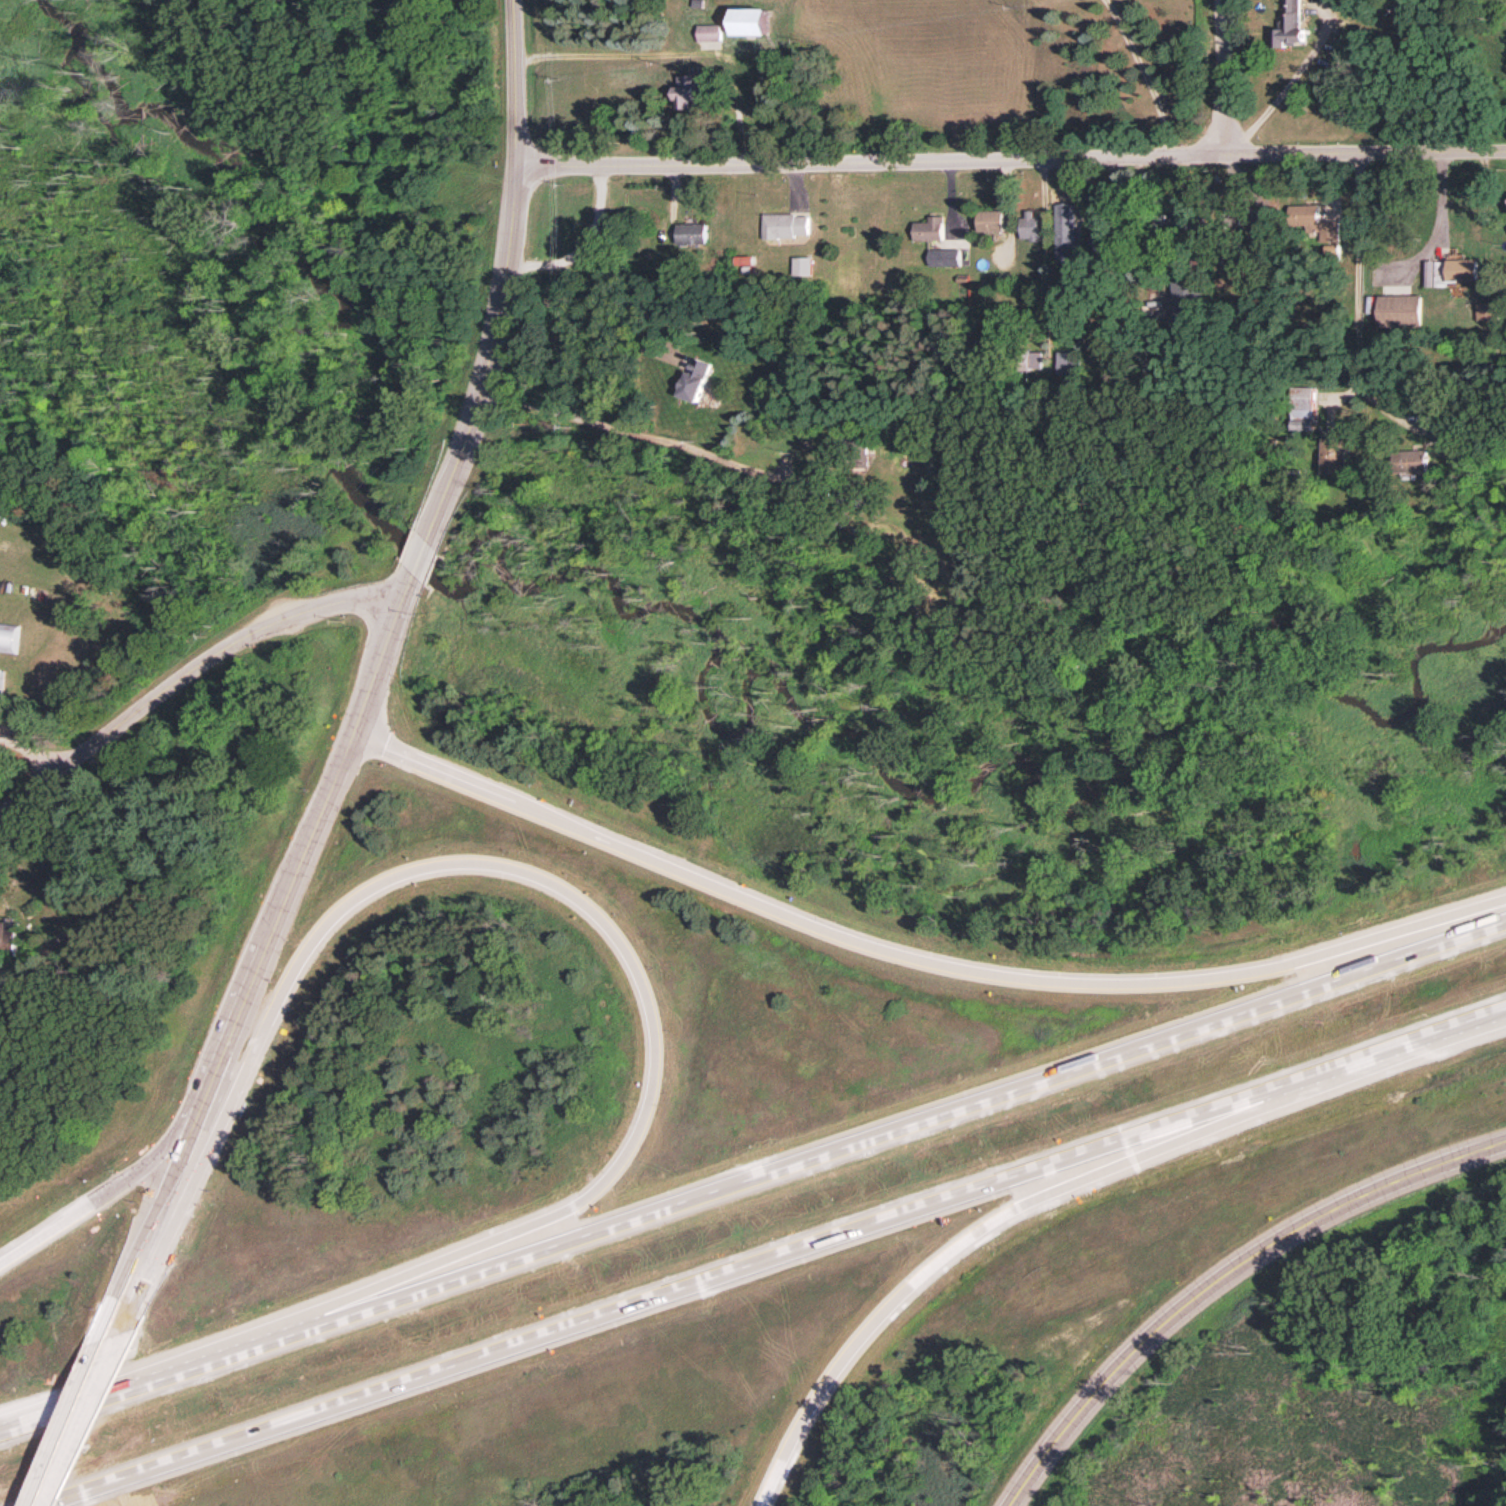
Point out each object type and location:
building: (750, 21)
building: (1289, 25)
building: (709, 31)
road: (601, 51)
road: (1145, 75)
road: (1221, 78)
road: (1283, 89)
building: (687, 91)
road: (1007, 158)
building: (1302, 214)
building: (989, 220)
building: (784, 224)
building: (1028, 224)
building: (927, 228)
building: (1063, 231)
building: (691, 232)
road: (581, 242)
building: (945, 256)
building: (801, 265)
building: (1449, 271)
road: (500, 276)
road: (1357, 285)
building: (1188, 297)
building: (1400, 309)
building: (1488, 310)
road: (593, 319)
building: (1066, 362)
building: (695, 378)
building: (1303, 407)
road: (631, 432)
building: (1333, 454)
road: (416, 550)
building: (9, 636)
road: (184, 670)
building: (1, 679)
road: (522, 875)
building: (7, 935)
road: (260, 937)
road: (910, 954)
road: (752, 1172)
road: (89, 1190)
road: (992, 1215)
road: (766, 1255)
road: (1220, 1274)
road: (70, 1410)

